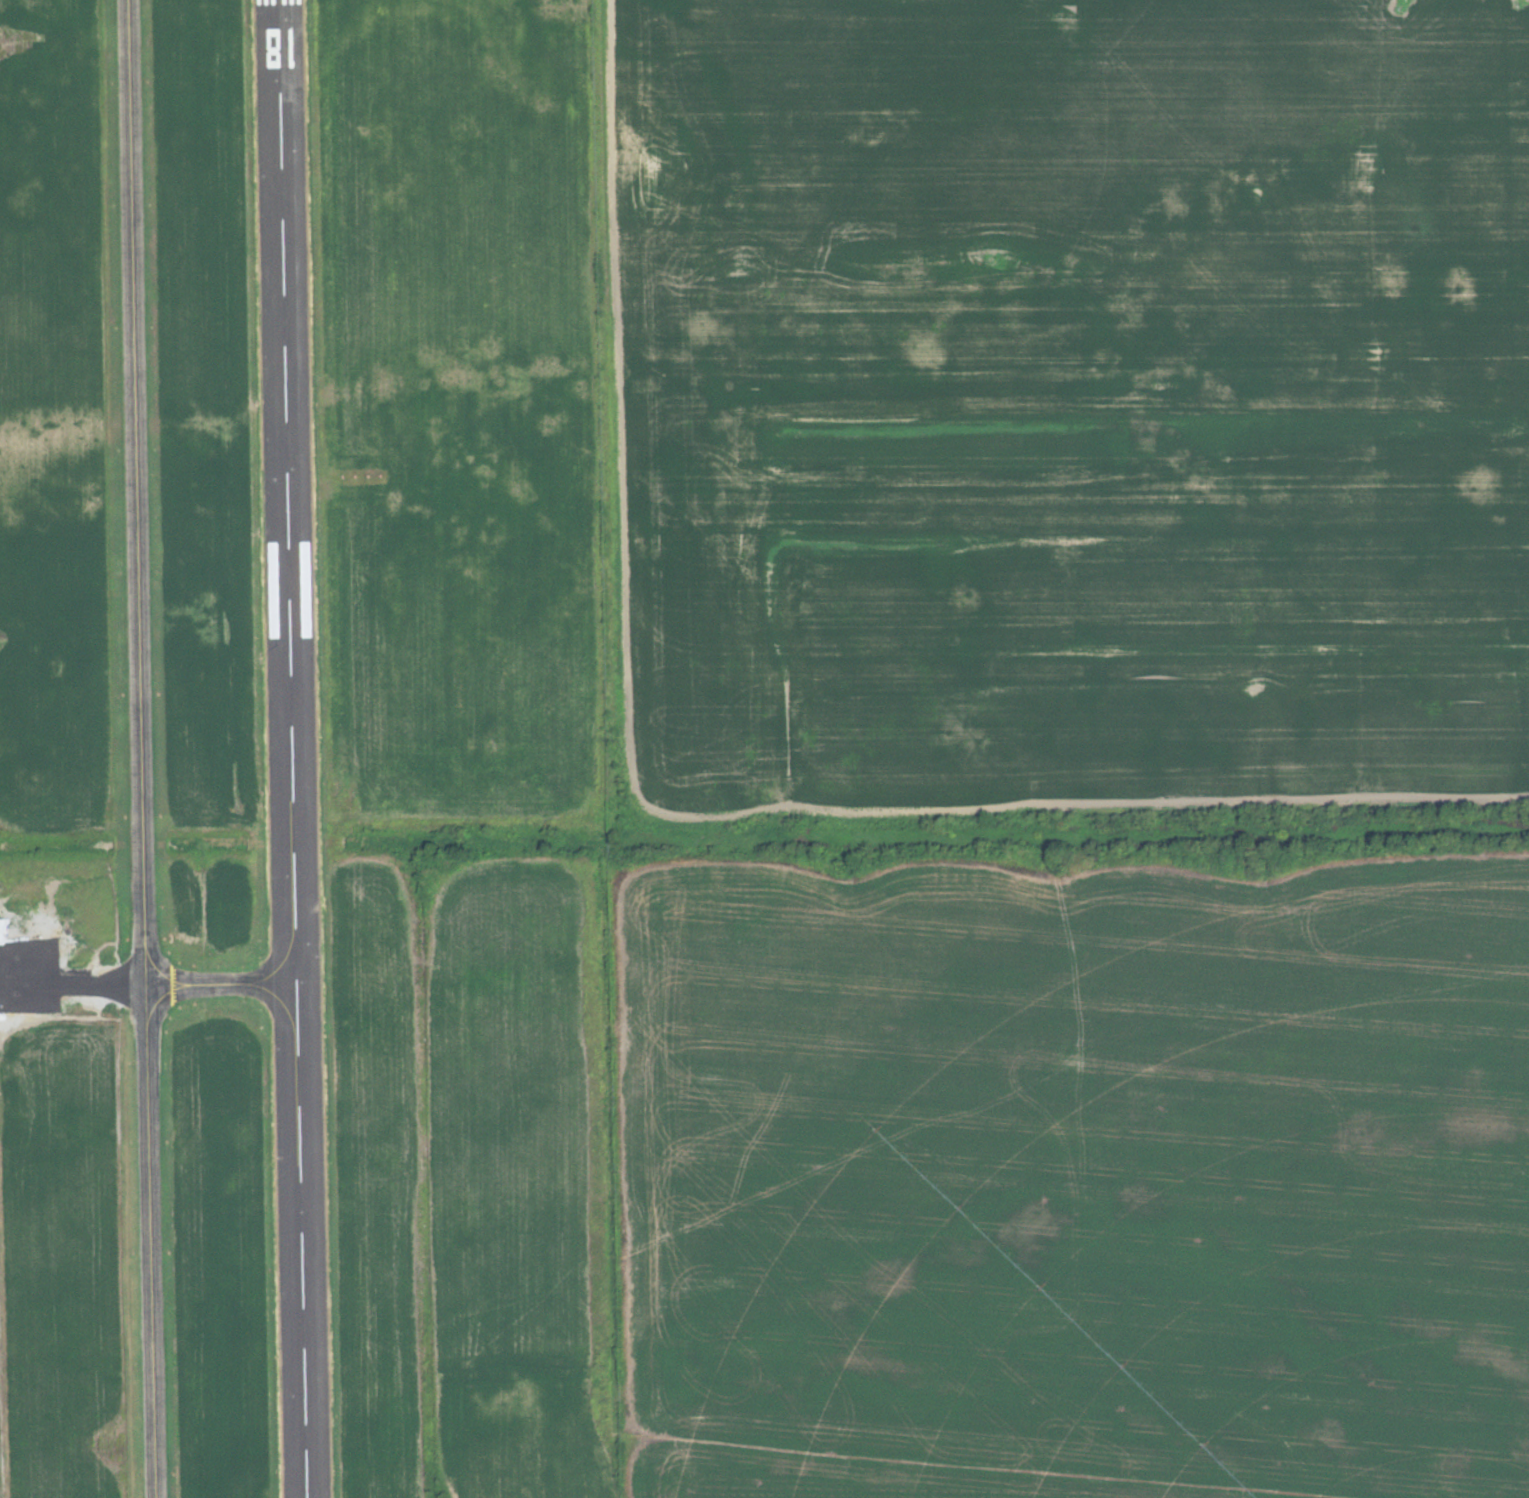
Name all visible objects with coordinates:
airport taxiway: (143, 748)
airport runway: (292, 749)
airport: (303, 753)
airport taxiway: (223, 983)

